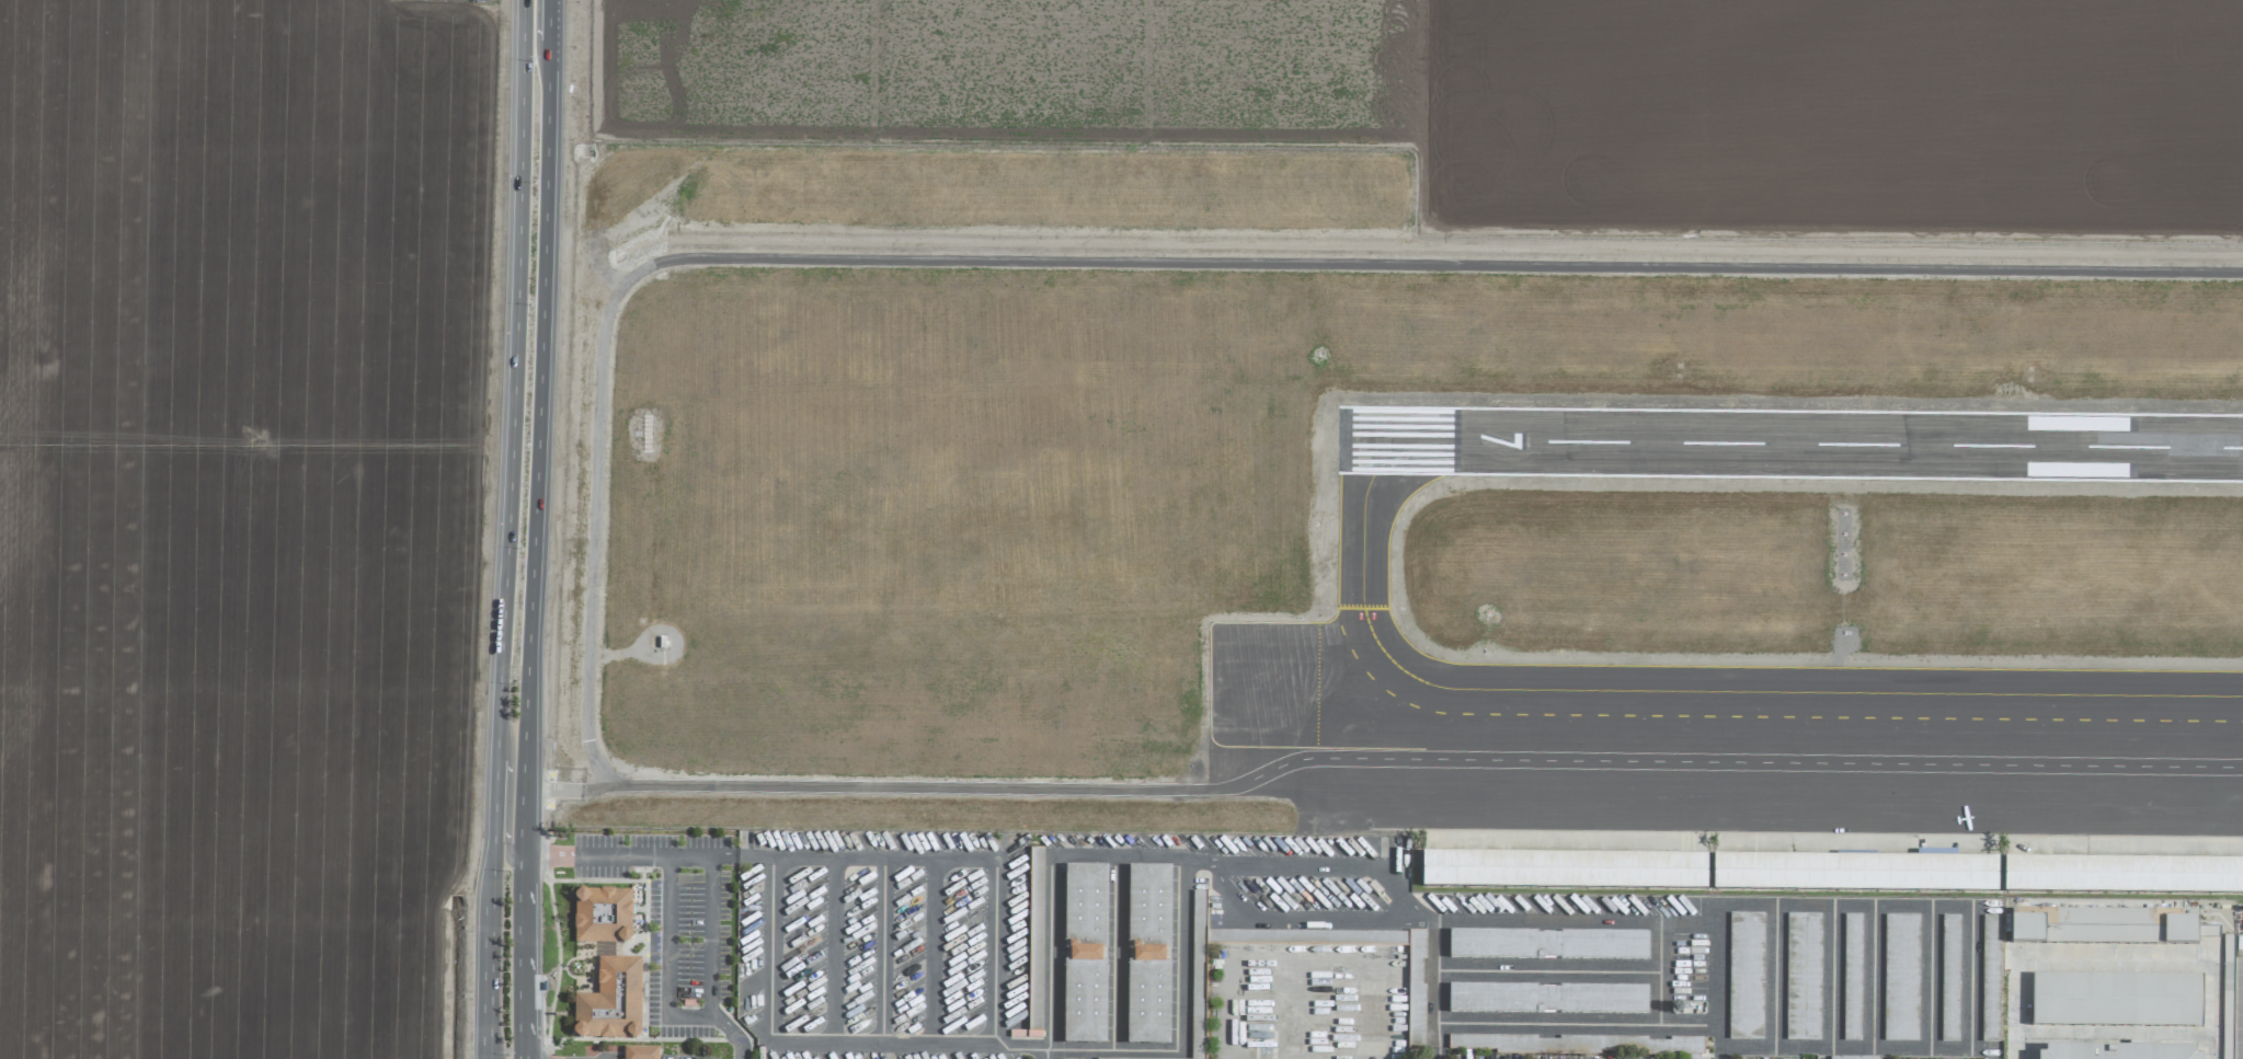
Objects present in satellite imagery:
building: (480, 1)
road: (548, 21)
road: (872, 258)
road: (514, 353)
airport runway: (1340, 441)
airport runway: (1790, 442)
road: (536, 449)
crop: (238, 525)
airport: (1394, 526)
airport taxiway: (1341, 603)
airport taxiway: (1684, 691)
road: (594, 787)
road: (552, 789)
road: (494, 803)
road: (506, 805)
airport apron: (1773, 808)
road: (1115, 859)
road: (1201, 862)
road: (710, 867)
building: (1572, 872)
building: (1864, 874)
building: (2128, 875)
road: (1399, 893)
road: (1228, 898)
building: (1199, 911)
building: (607, 913)
building: (2126, 926)
building: (2027, 929)
building: (1035, 941)
building: (1547, 945)
building: (2228, 948)
road: (671, 952)
building: (1085, 955)
road: (1118, 955)
building: (1148, 955)
road: (519, 957)
road: (2114, 958)
road: (1548, 970)
road: (1660, 971)
road: (1969, 971)
road: (1714, 974)
road: (1774, 974)
road: (1830, 974)
building: (1746, 975)
road: (1870, 975)
road: (1927, 976)
building: (1803, 977)
building: (1852, 977)
building: (1900, 977)
building: (1949, 978)
road: (488, 979)
road: (1435, 981)
building: (1416, 998)
building: (615, 999)
building: (1547, 999)
building: (2117, 1000)
building: (1197, 1009)
road: (2114, 1033)
building: (1672, 1047)
road: (1110, 1050)
building: (644, 1051)
building: (2119, 1052)
road: (1046, 1055)
road: (607, 1057)
road: (639, 1057)
road: (682, 1058)
building: (1851, 1058)

